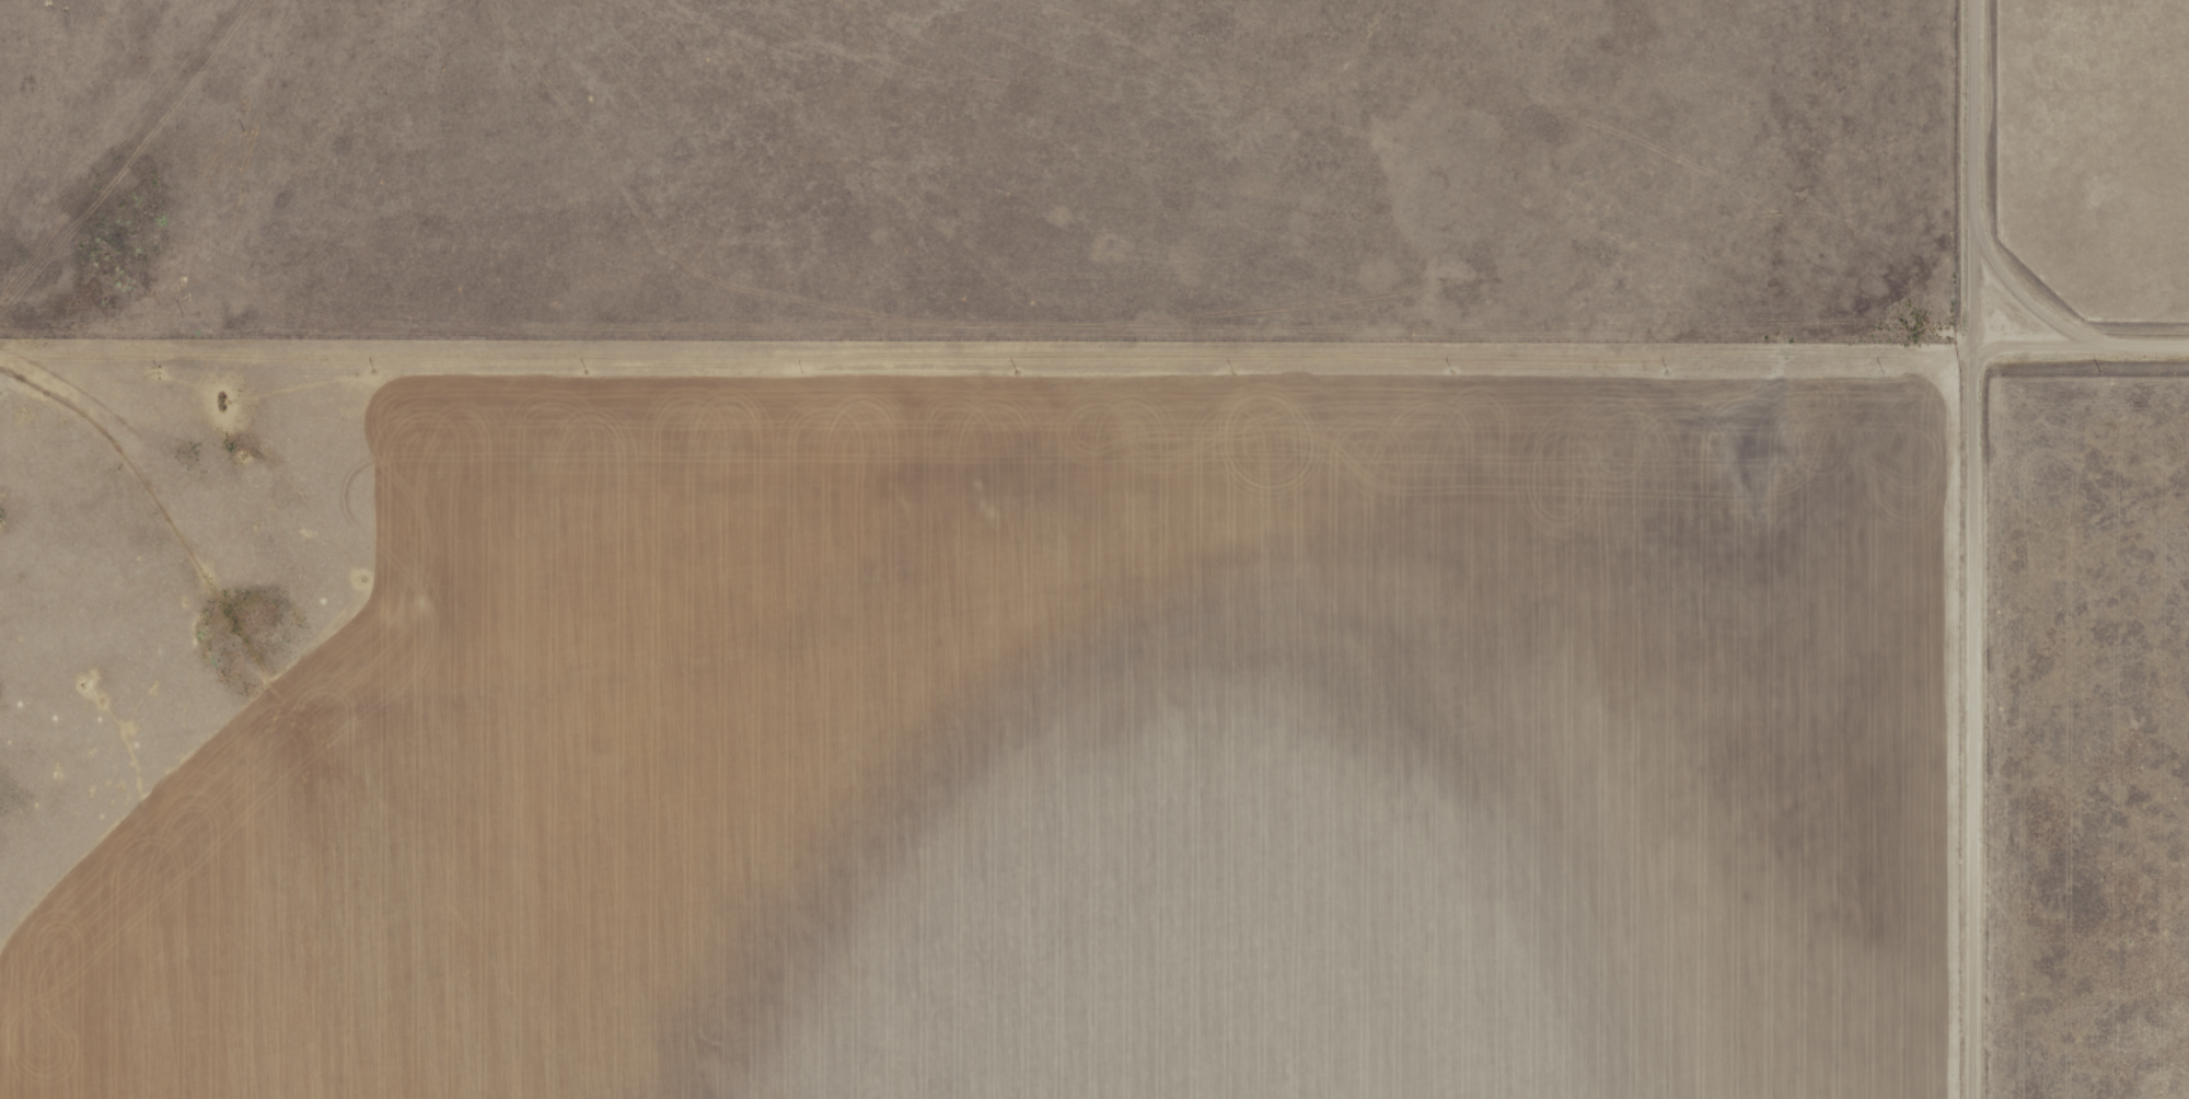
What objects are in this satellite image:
road: (2026, 296)
road: (1093, 356)
road: (1976, 549)

